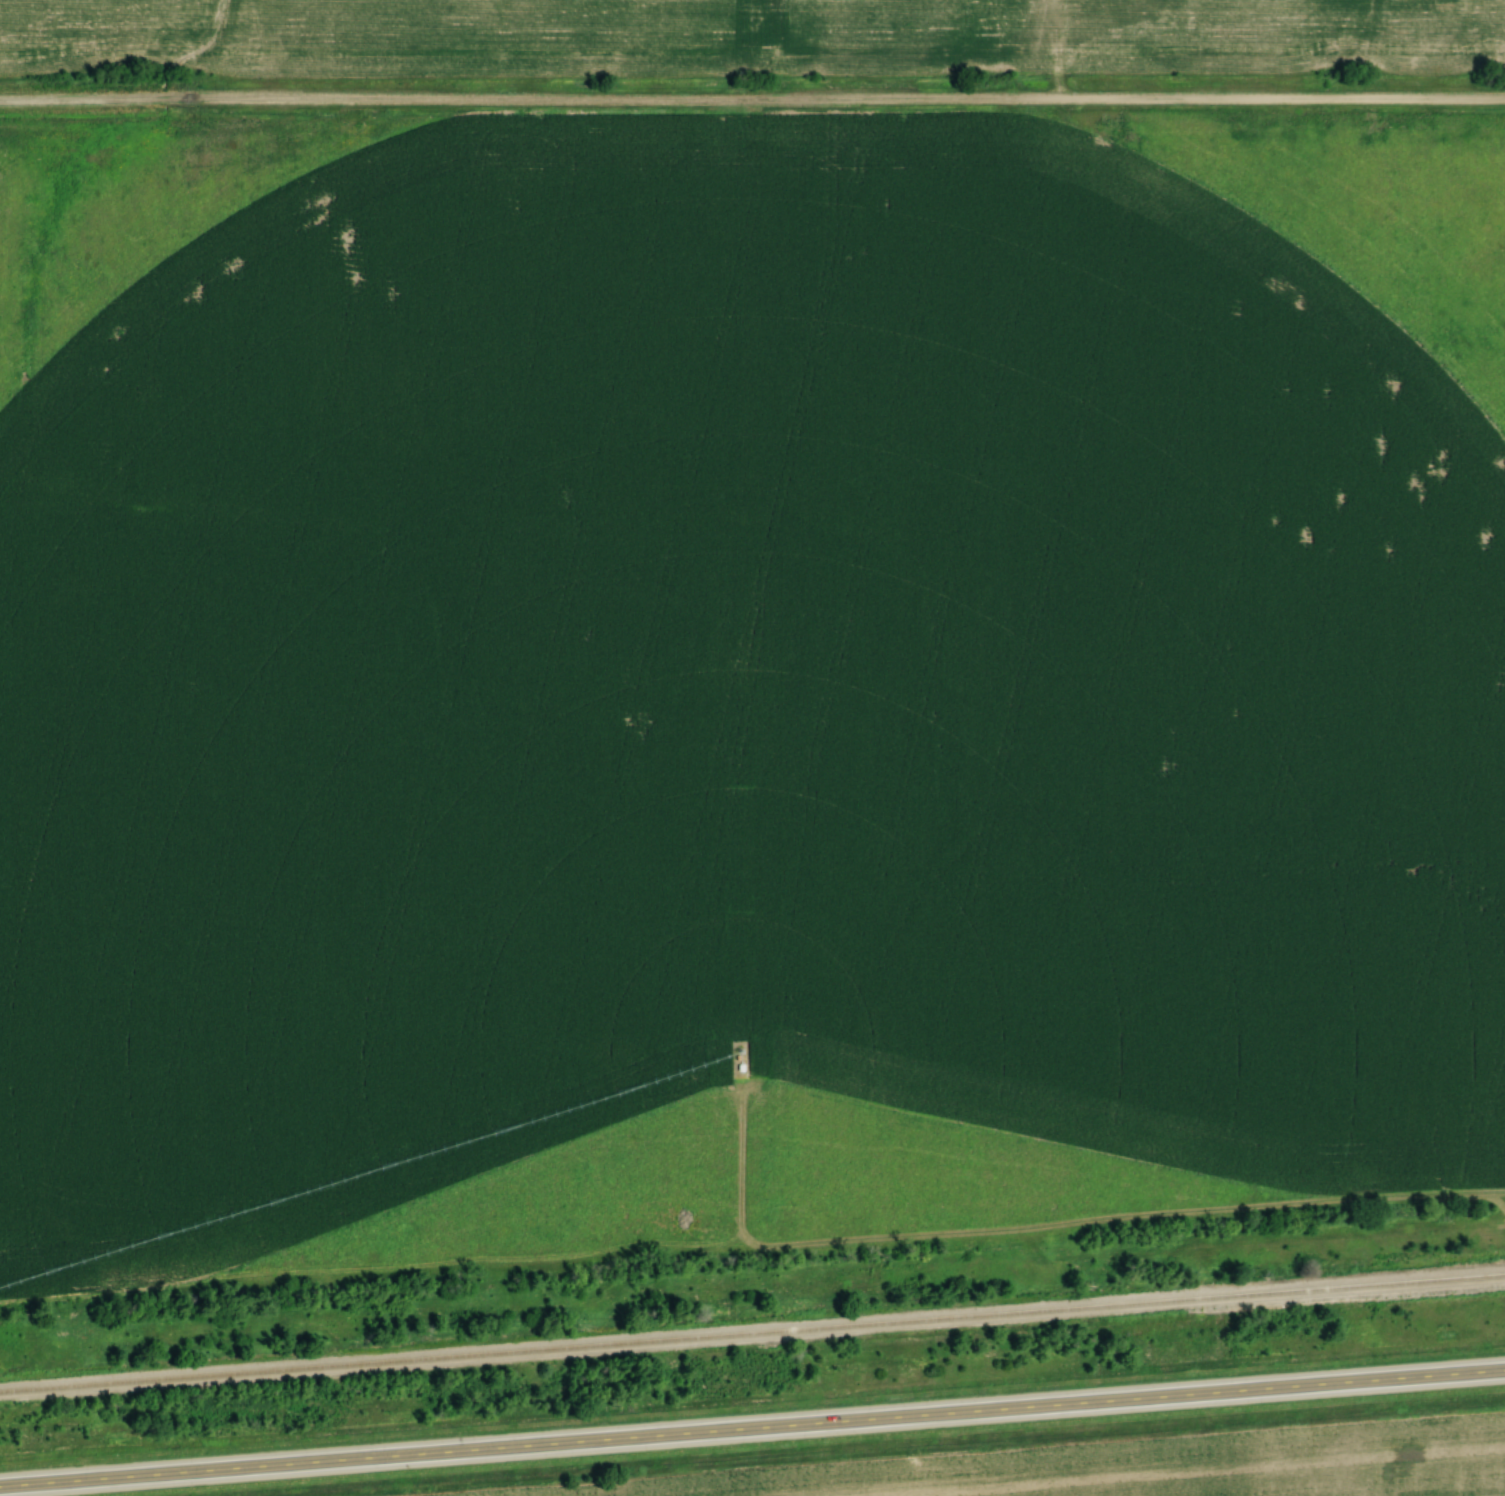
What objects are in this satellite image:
road: (1059, 49)
road: (752, 98)
railway: (752, 1350)
road: (752, 1430)

